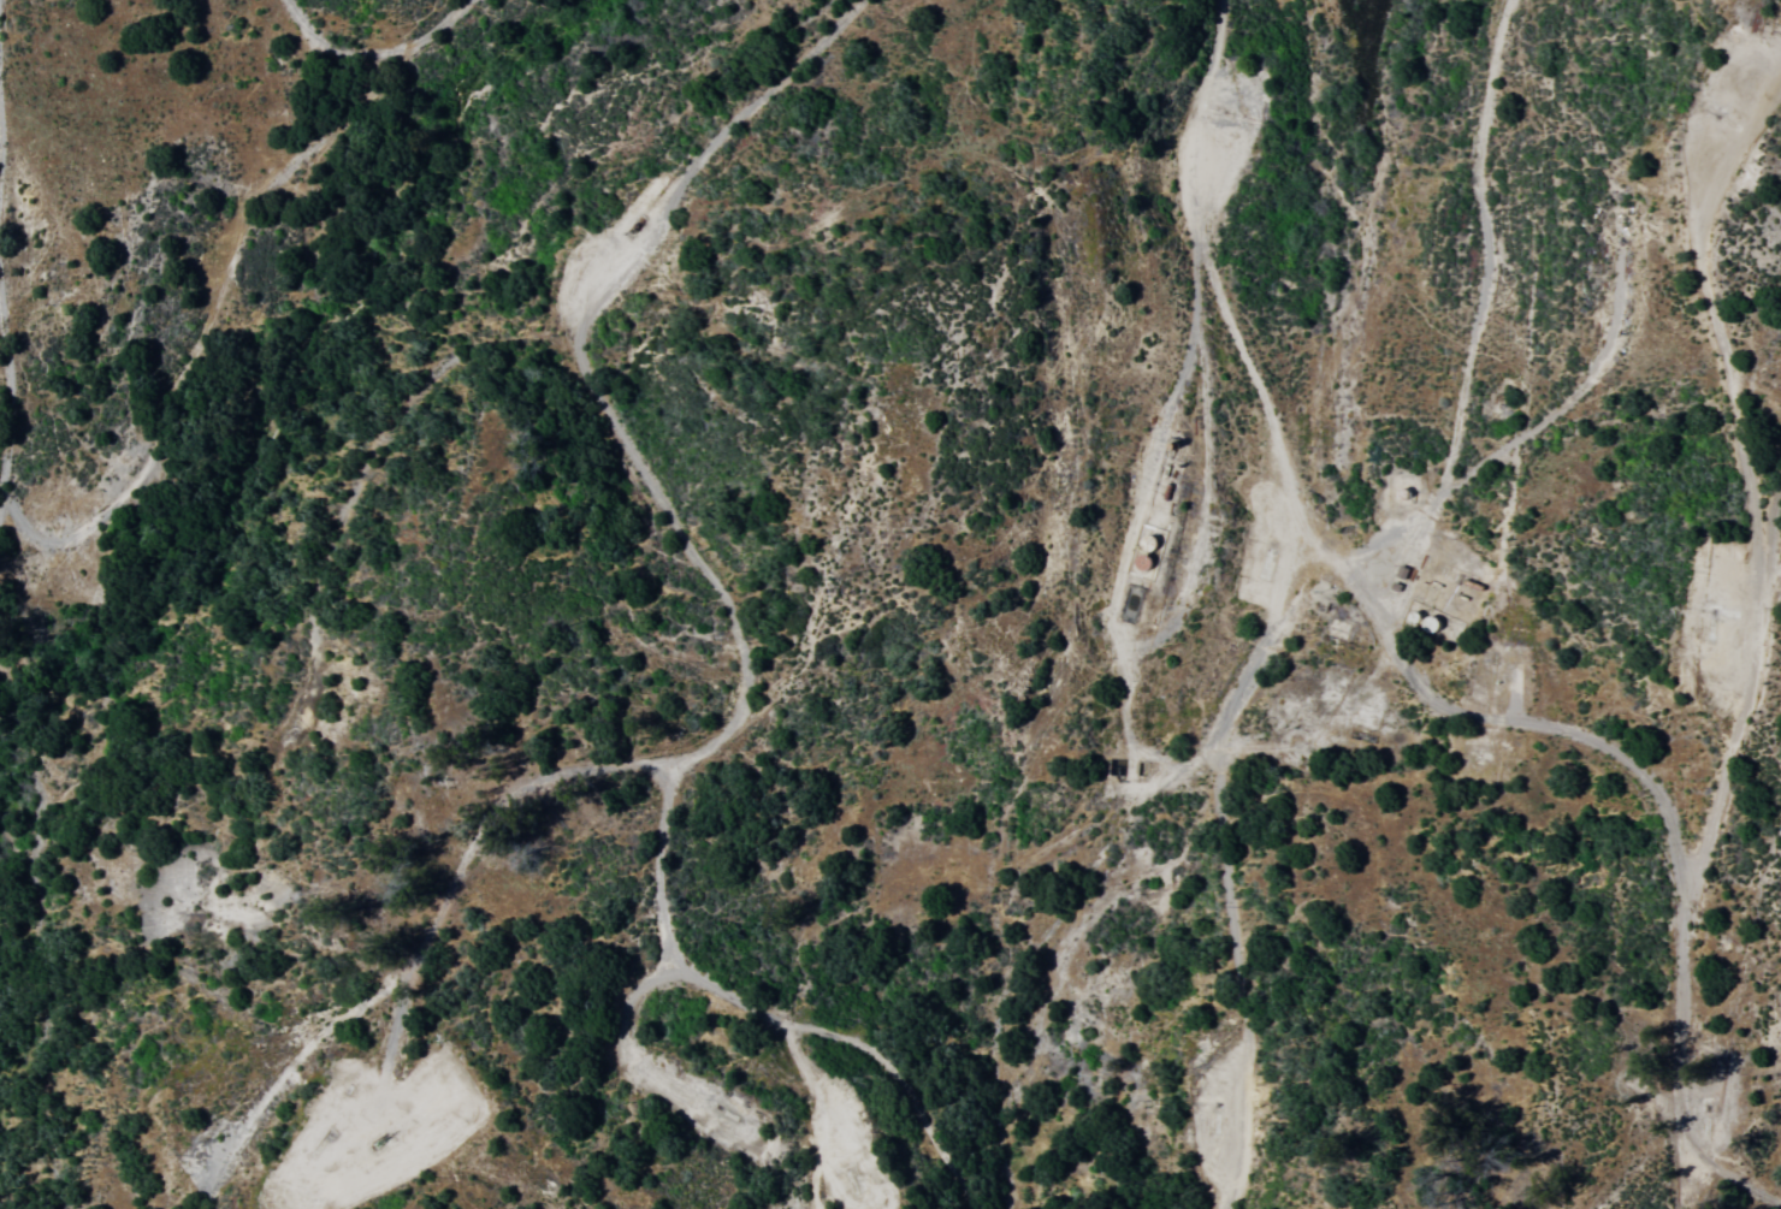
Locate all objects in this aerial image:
road: (1751, 468)
road: (1418, 677)
road: (544, 777)
road: (1226, 859)
road: (859, 1043)

